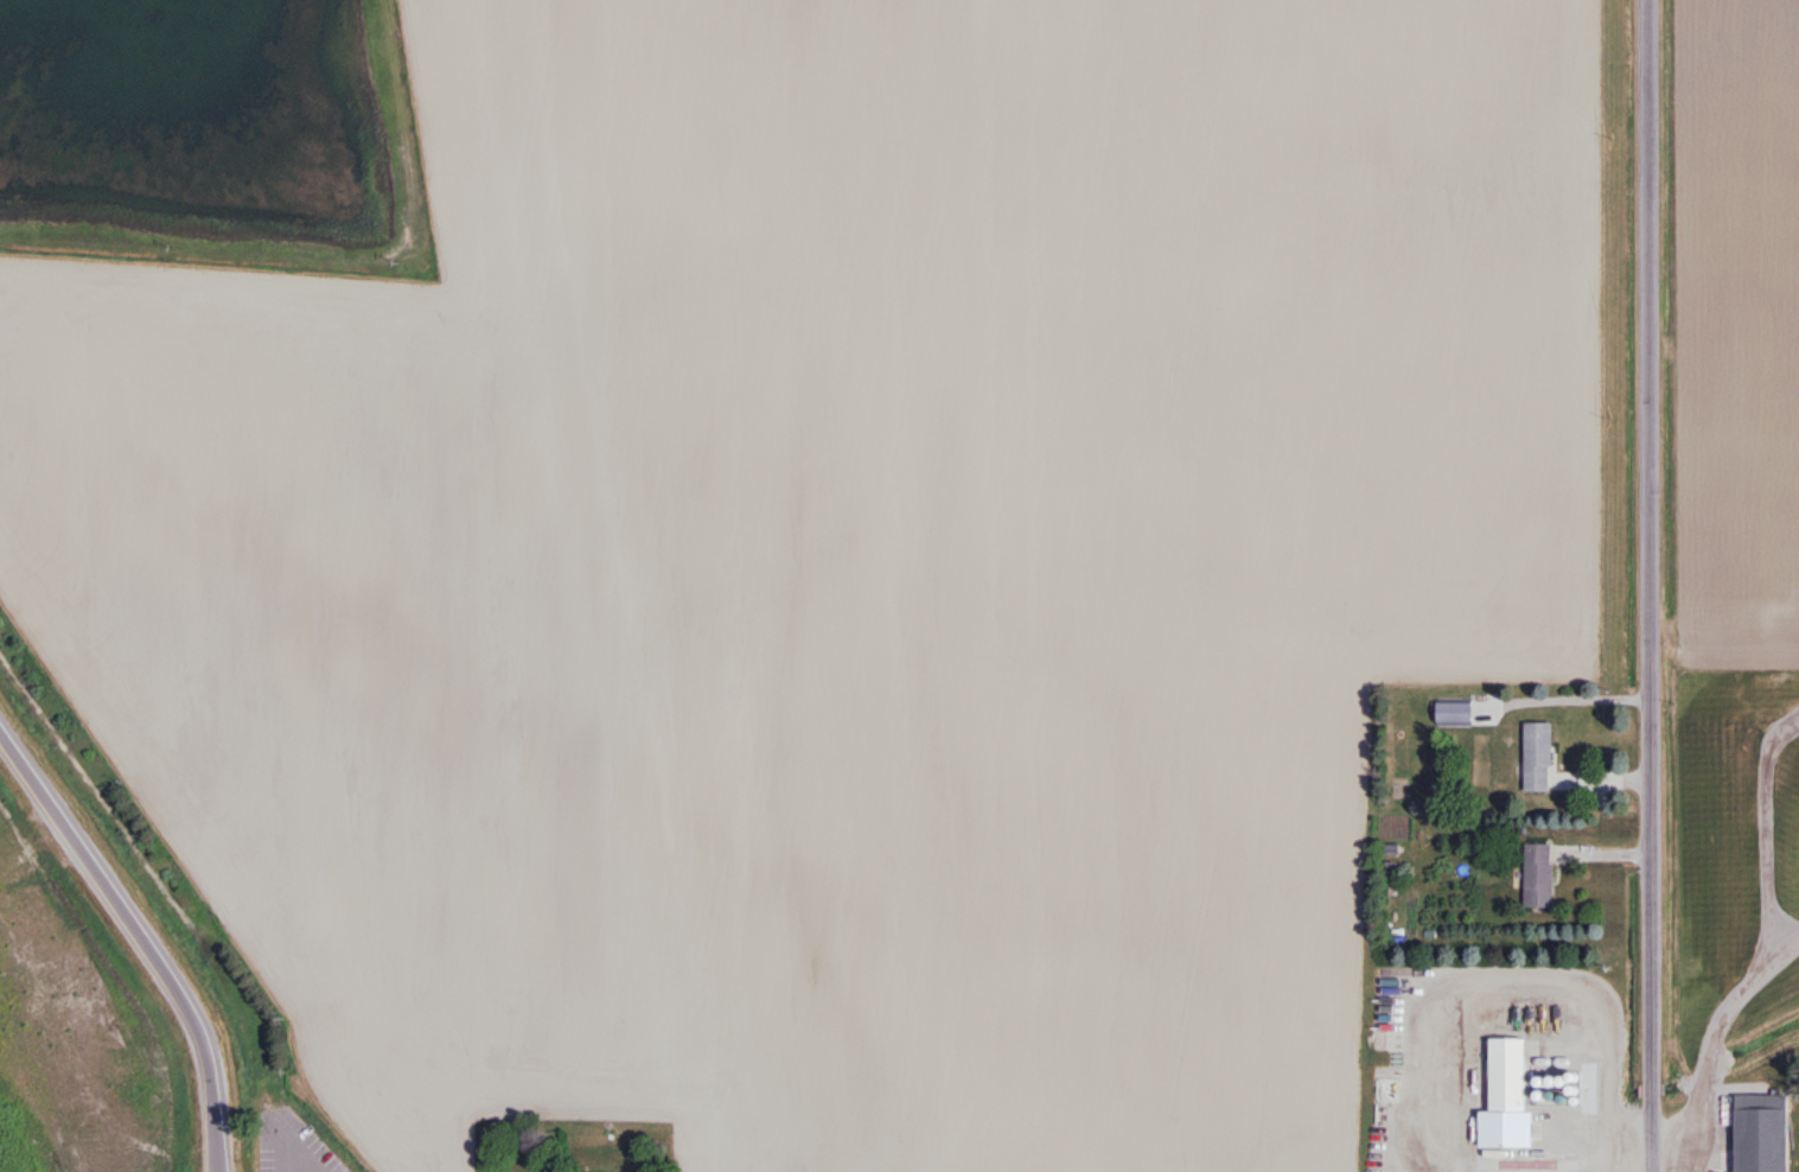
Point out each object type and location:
road: (1645, 586)
building: (1455, 713)
building: (1539, 757)
road: (1760, 821)
building: (1539, 875)
road: (141, 938)
road: (1780, 938)
road: (1697, 1053)
building: (1508, 1072)
building: (1762, 1134)
building: (1535, 1138)
parking lot: (292, 1144)
road: (296, 1149)
building: (608, 1171)

